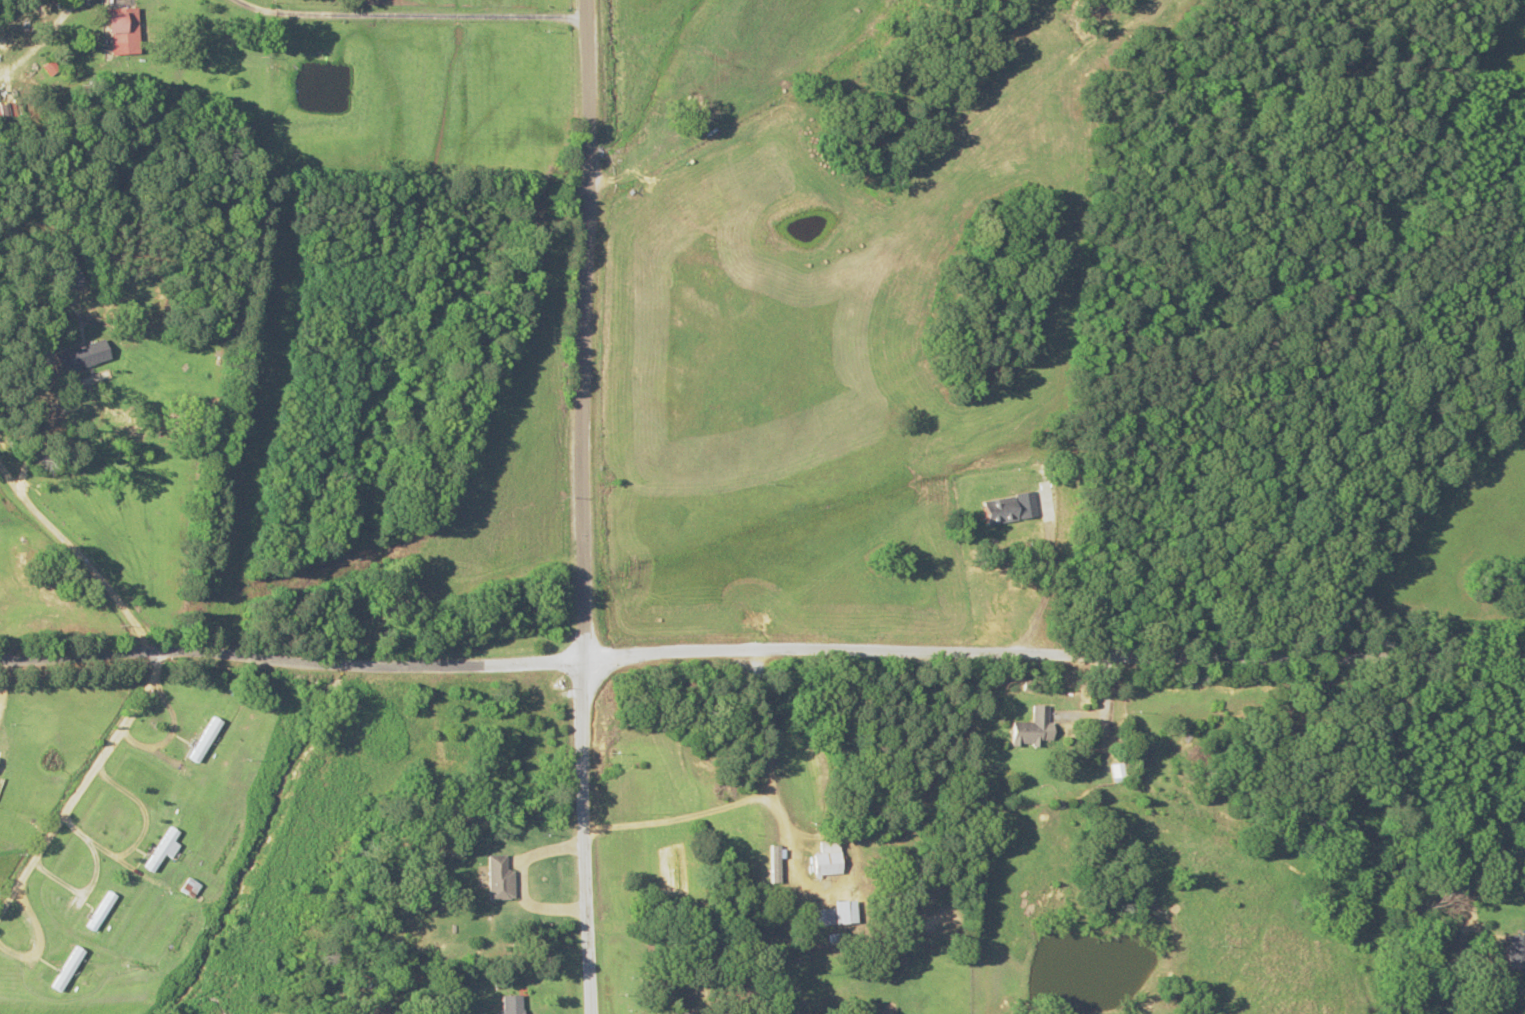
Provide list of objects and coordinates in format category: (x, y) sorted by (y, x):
building: (115, 32)
building: (59, 273)
building: (77, 357)
road: (584, 507)
building: (1001, 510)
road: (761, 647)
road: (672, 680)
building: (1026, 728)
building: (201, 740)
road: (84, 782)
building: (158, 849)
building: (823, 858)
building: (773, 872)
building: (496, 878)
building: (188, 887)
road: (1446, 898)
building: (1454, 900)
building: (99, 911)
building: (827, 914)
building: (894, 957)
building: (66, 969)
building: (503, 1005)
building: (681, 1013)

